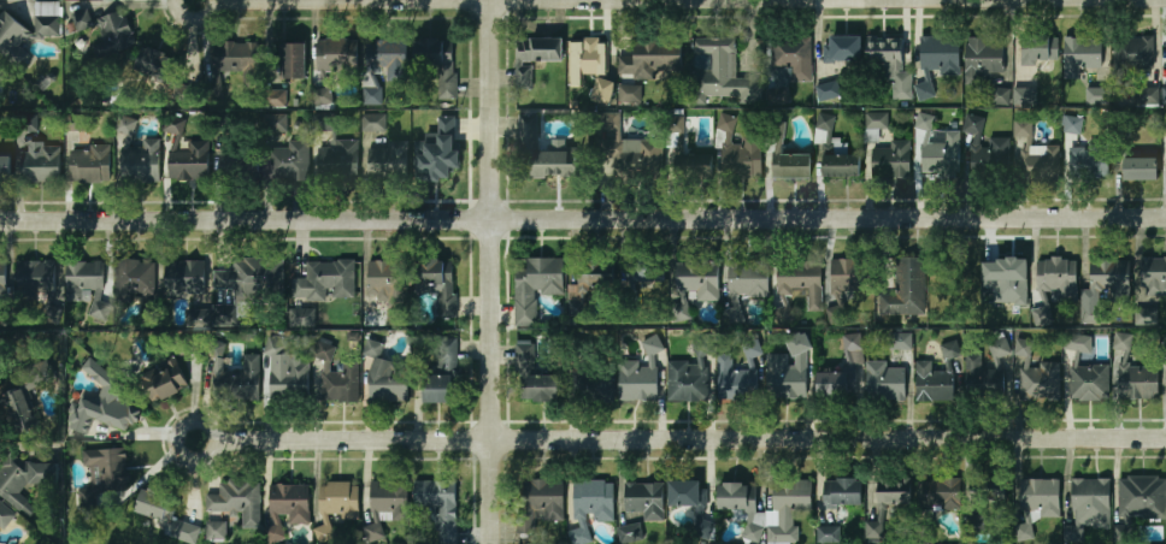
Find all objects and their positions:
building: (46, 19)
building: (106, 31)
building: (12, 40)
building: (842, 48)
building: (1038, 48)
building: (1131, 52)
building: (336, 54)
building: (230, 55)
building: (941, 55)
building: (889, 57)
building: (1083, 57)
building: (534, 58)
building: (983, 58)
building: (387, 59)
building: (294, 60)
building: (791, 60)
building: (437, 63)
building: (649, 63)
building: (590, 64)
building: (155, 66)
building: (718, 71)
building: (603, 90)
building: (828, 90)
building: (925, 90)
building: (183, 93)
building: (630, 93)
building: (778, 95)
building: (1001, 95)
building: (1025, 95)
building: (1097, 95)
building: (1165, 95)
building: (1148, 96)
building: (279, 97)
building: (323, 97)
building: (877, 120)
building: (77, 122)
building: (375, 122)
building: (925, 122)
building: (273, 123)
building: (323, 123)
building: (1073, 124)
building: (172, 125)
building: (1023, 128)
building: (622, 148)
building: (437, 149)
building: (985, 149)
building: (542, 153)
building: (943, 154)
building: (139, 156)
building: (743, 158)
building: (189, 160)
building: (288, 160)
building: (890, 160)
building: (337, 161)
building: (1091, 162)
building: (387, 164)
building: (40, 165)
building: (89, 165)
building: (241, 166)
building: (793, 166)
building: (842, 166)
building: (1040, 166)
building: (5, 168)
building: (694, 168)
building: (1142, 170)
road: (582, 218)
road: (490, 272)
building: (594, 276)
building: (1153, 276)
building: (4, 277)
building: (1056, 277)
building: (36, 278)
building: (1111, 278)
building: (83, 279)
building: (185, 279)
building: (748, 279)
building: (1007, 279)
building: (322, 280)
building: (384, 280)
building: (802, 280)
building: (131, 282)
building: (440, 283)
building: (648, 284)
building: (695, 284)
building: (535, 286)
building: (961, 286)
building: (850, 288)
building: (906, 289)
building: (237, 290)
building: (100, 309)
building: (1040, 314)
building: (198, 317)
building: (302, 317)
building: (373, 318)
building: (901, 341)
building: (1123, 341)
building: (1078, 343)
building: (1024, 347)
building: (446, 351)
building: (753, 351)
building: (947, 354)
building: (789, 369)
building: (842, 372)
building: (285, 374)
building: (642, 376)
building: (689, 376)
building: (985, 376)
building: (338, 379)
building: (534, 379)
building: (734, 379)
building: (172, 380)
building: (1038, 380)
building: (885, 382)
building: (1090, 382)
building: (1138, 382)
building: (388, 383)
building: (935, 383)
building: (236, 384)
building: (594, 386)
building: (438, 388)
building: (24, 398)
building: (106, 402)
road: (681, 440)
building: (104, 478)
building: (24, 480)
building: (843, 491)
building: (894, 491)
building: (942, 493)
building: (688, 495)
building: (988, 496)
building: (1041, 498)
building: (1142, 498)
building: (338, 499)
building: (644, 499)
building: (1091, 499)
building: (237, 501)
building: (289, 503)
building: (540, 503)
building: (387, 504)
building: (591, 504)
building: (440, 505)
building: (157, 507)
building: (5, 512)
building: (736, 513)
building: (974, 524)
building: (217, 530)
building: (874, 530)
building: (629, 533)
building: (829, 534)

